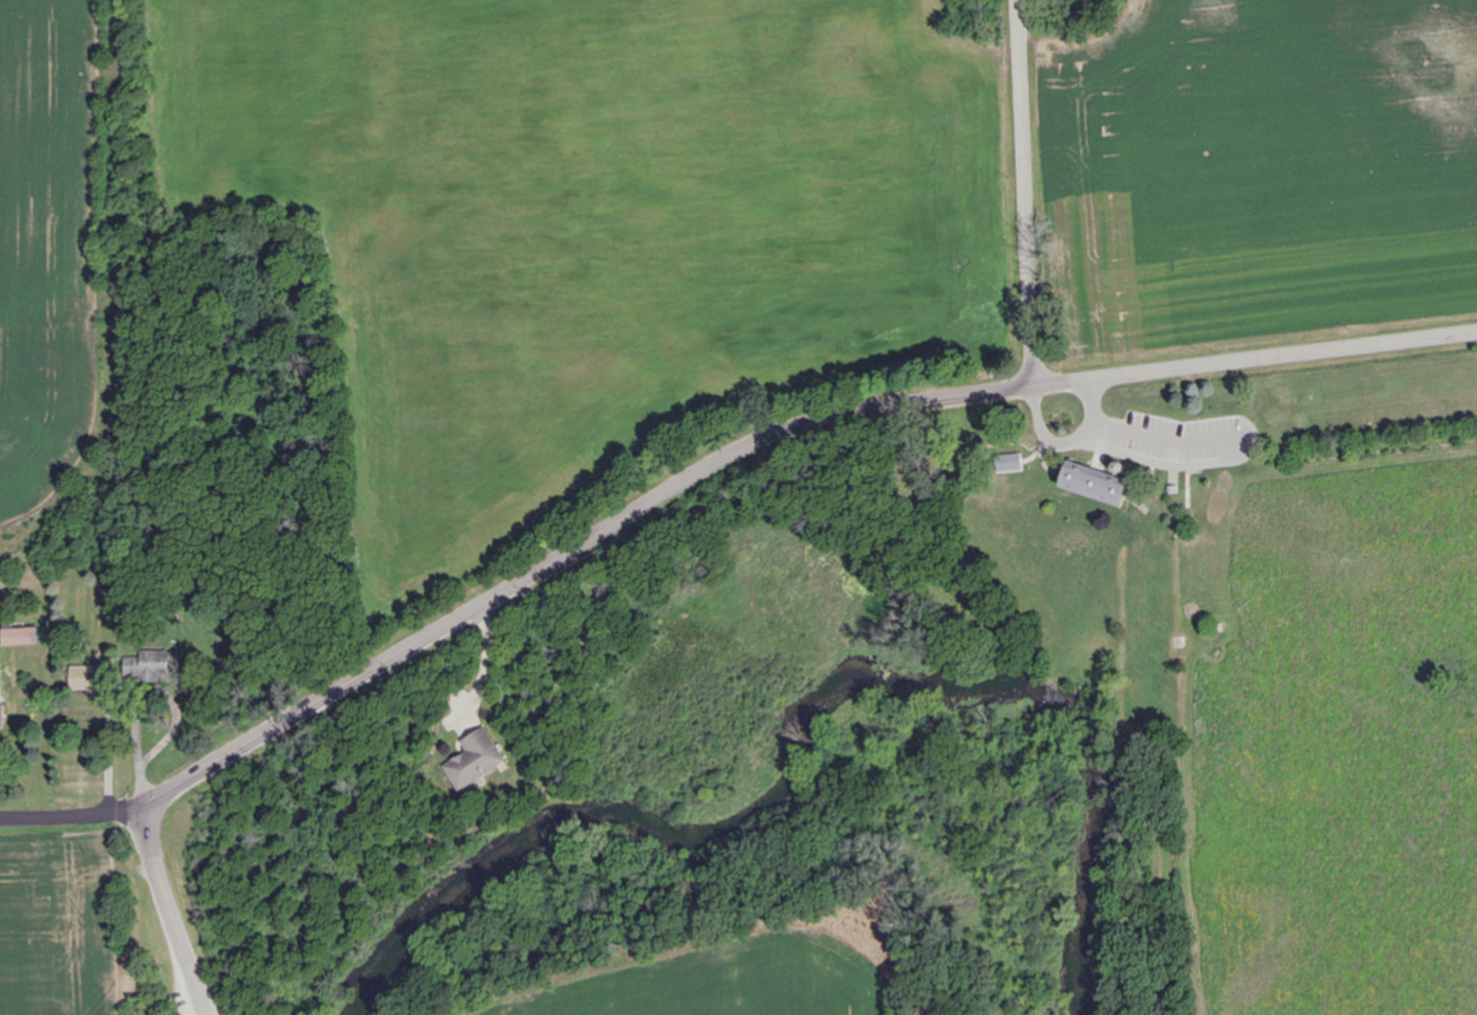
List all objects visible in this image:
road: (1026, 194)
road: (1168, 441)
road: (1072, 443)
road: (765, 446)
building: (1097, 488)
building: (22, 637)
building: (153, 665)
road: (486, 666)
building: (88, 679)
building: (2, 708)
road: (138, 752)
building: (477, 761)
river: (786, 798)
road: (71, 810)
road: (175, 913)

